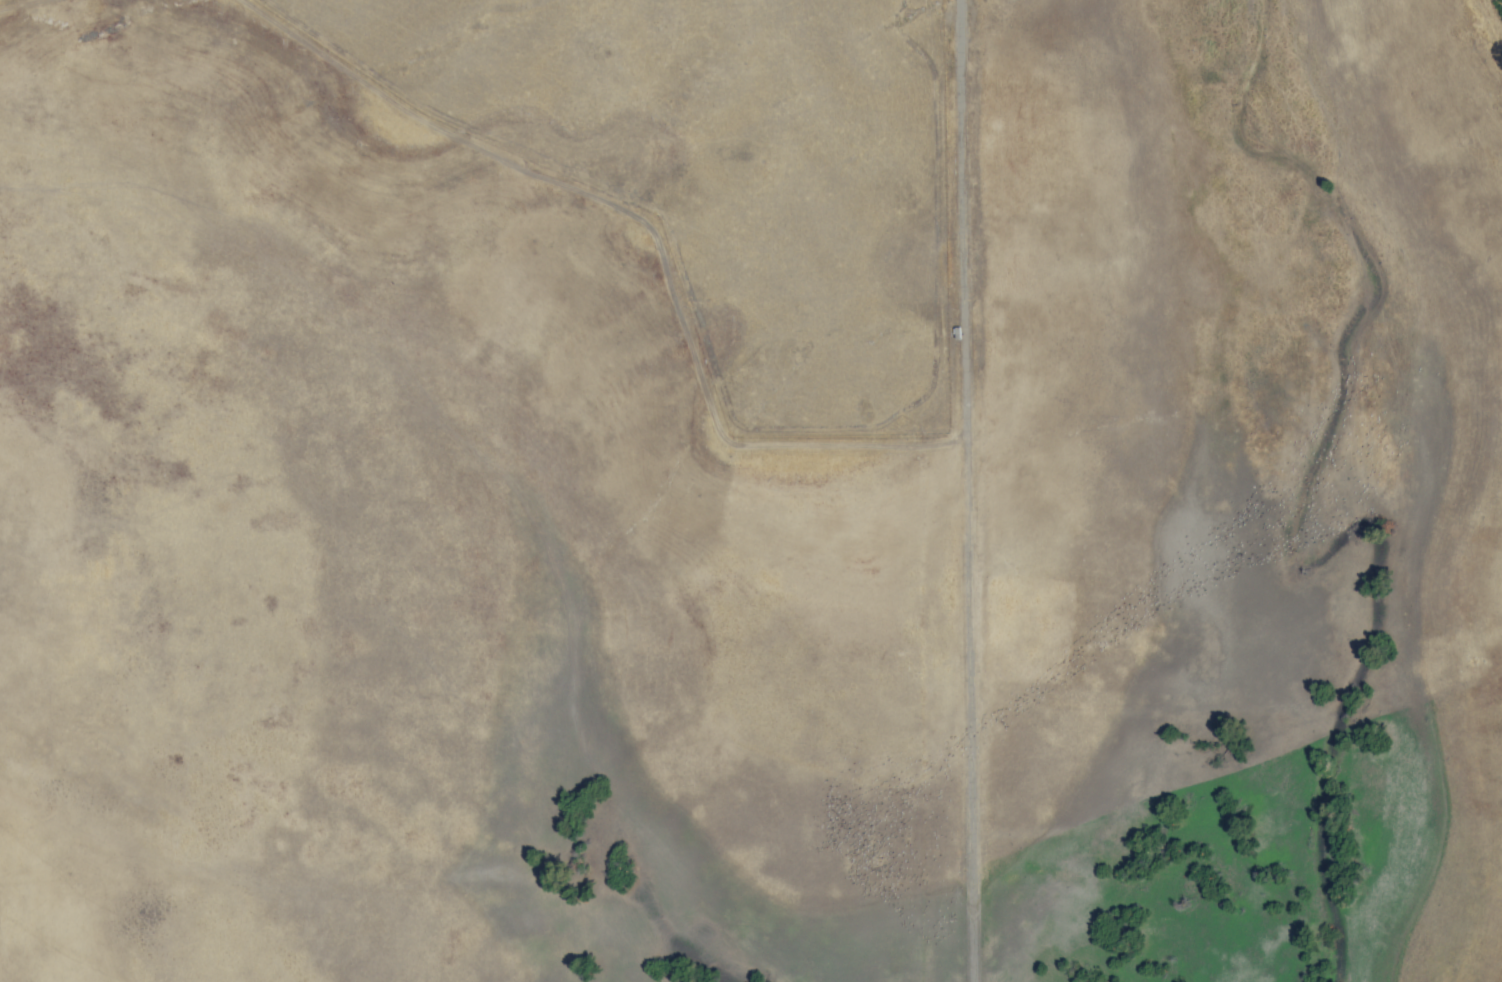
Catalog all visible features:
road: (966, 490)

